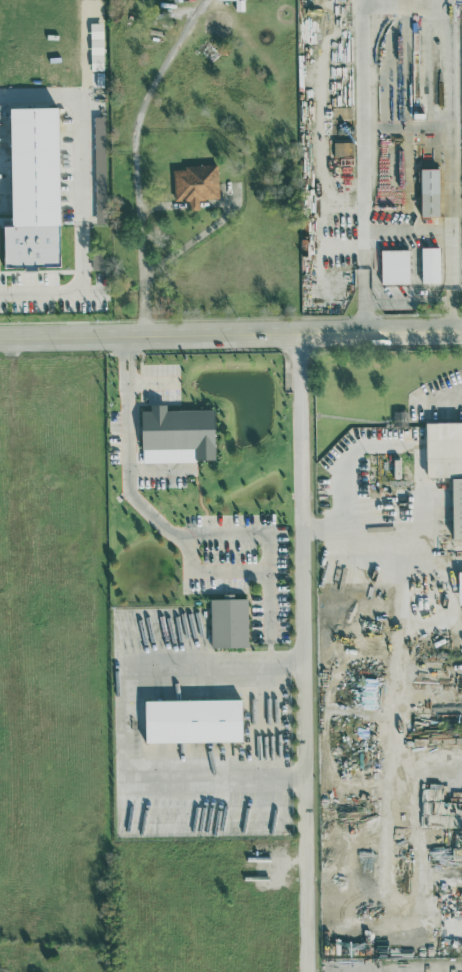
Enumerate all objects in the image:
road: (401, 1)
building: (239, 4)
road: (136, 161)
building: (100, 169)
building: (196, 182)
building: (34, 189)
building: (430, 191)
road: (81, 198)
road: (184, 203)
road: (199, 236)
building: (394, 265)
building: (430, 265)
road: (230, 334)
building: (178, 434)
building: (444, 447)
building: (457, 506)
road: (171, 530)
road: (358, 533)
road: (240, 536)
building: (460, 587)
road: (304, 652)
building: (193, 719)
road: (125, 720)

